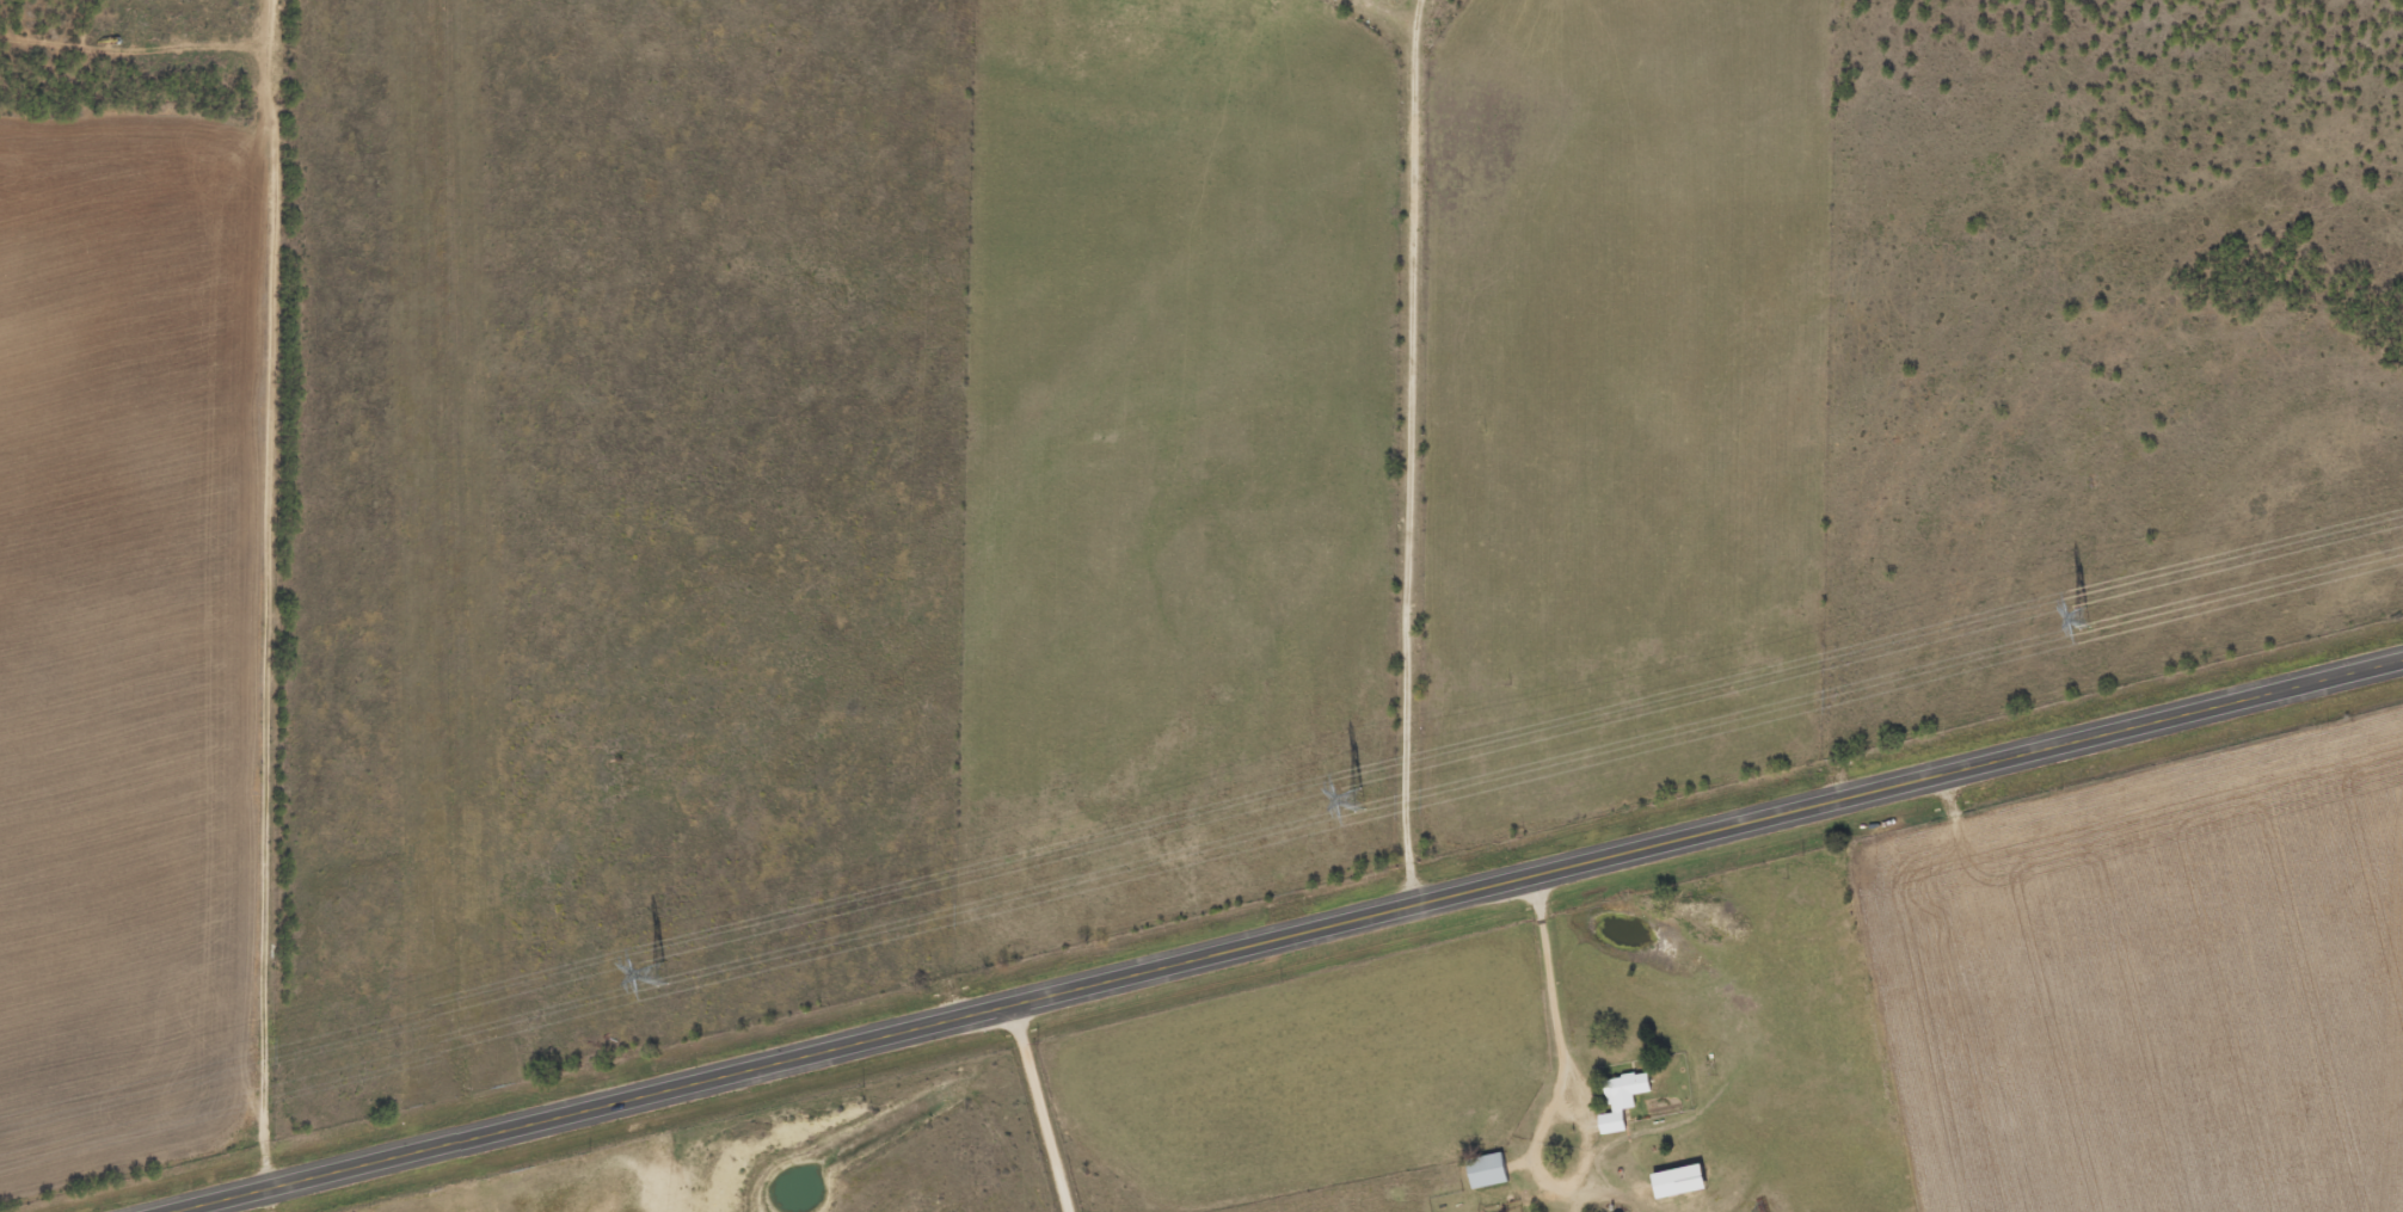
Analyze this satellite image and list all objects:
road: (1411, 451)
road: (270, 592)
power tower: (2079, 616)
power tower: (1358, 796)
road: (1282, 934)
power tower: (662, 972)
road: (1561, 1044)
building: (1622, 1100)
road: (1043, 1105)
building: (1487, 1171)
building: (1678, 1181)

